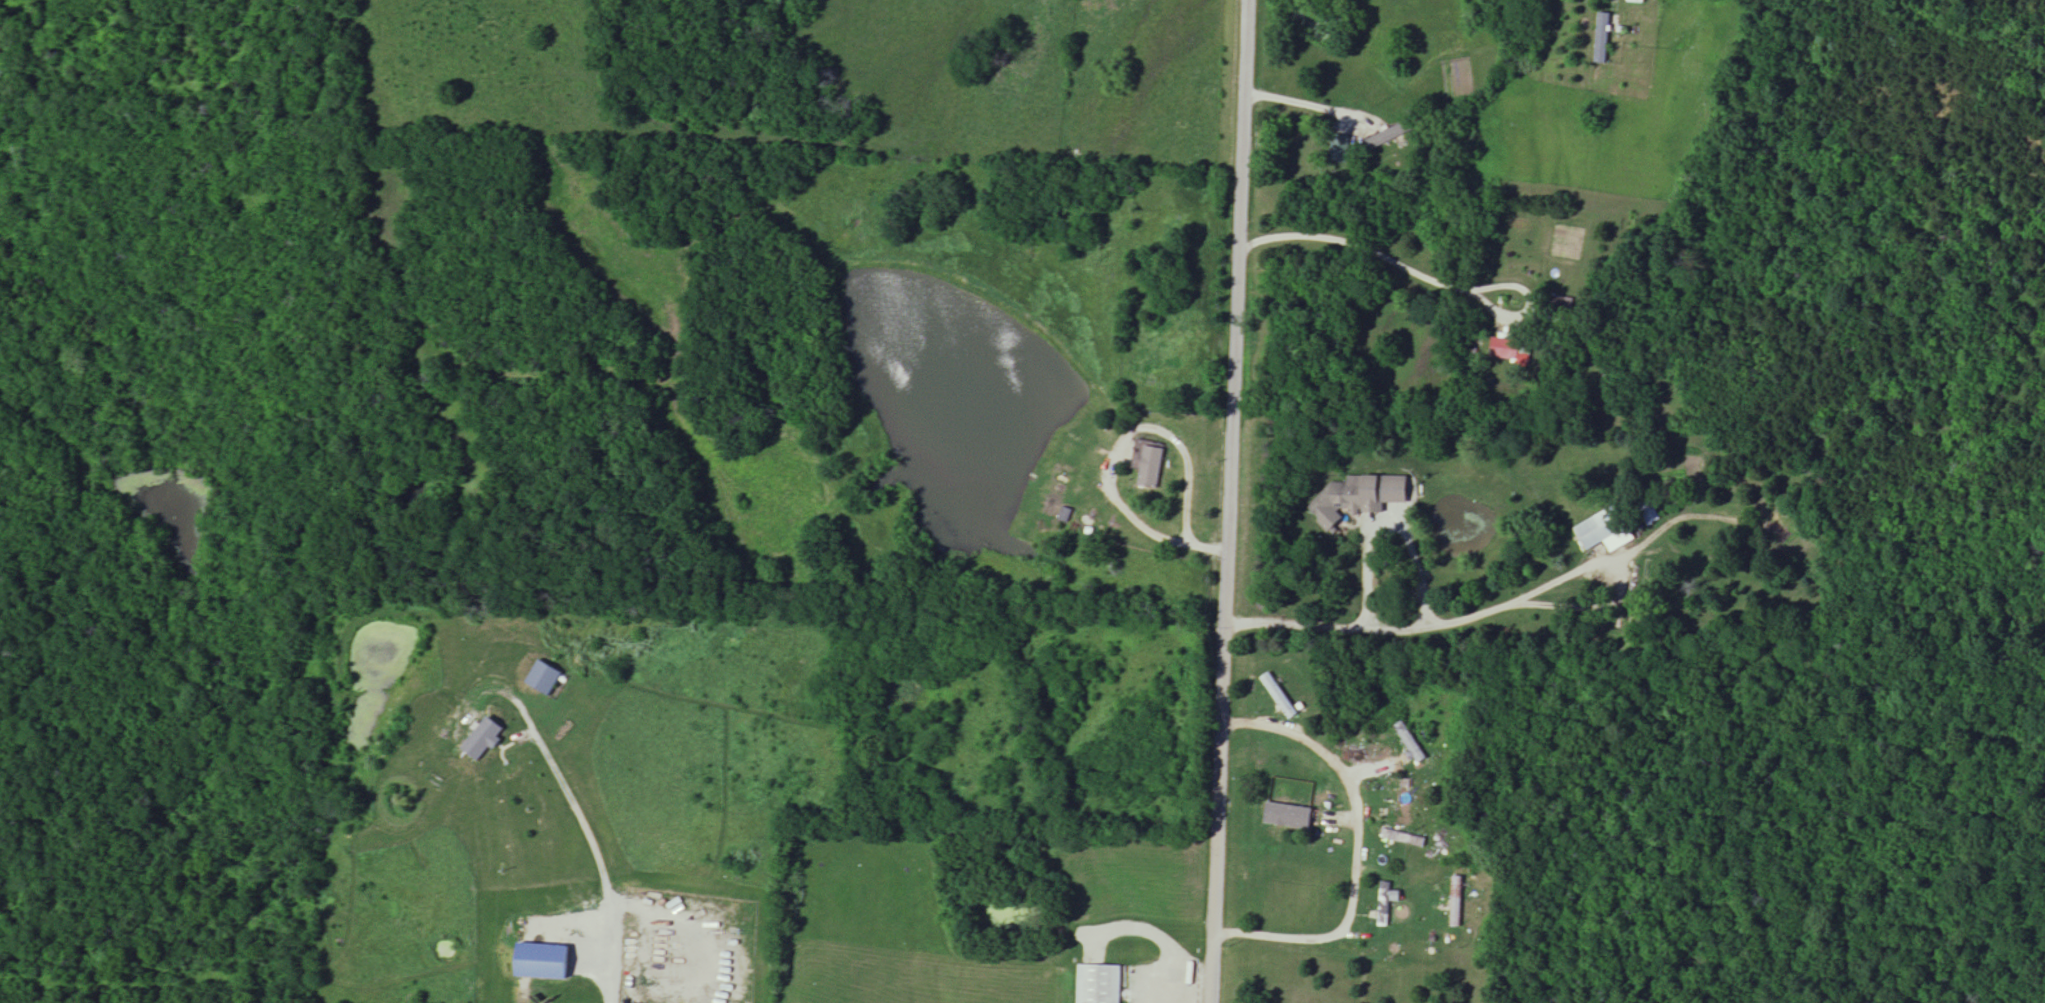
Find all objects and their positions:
building: (1601, 38)
road: (1316, 108)
road: (1360, 248)
road: (1526, 296)
building: (1506, 350)
road: (1119, 444)
building: (1148, 467)
road: (1228, 501)
building: (1340, 503)
building: (1601, 528)
road: (1205, 548)
road: (1367, 570)
road: (1412, 632)
building: (1279, 697)
building: (484, 740)
building: (1410, 743)
building: (1394, 803)
building: (1287, 814)
road: (1357, 846)
road: (595, 856)
building: (1386, 902)
building: (1456, 902)
building: (543, 962)
building: (1099, 984)

